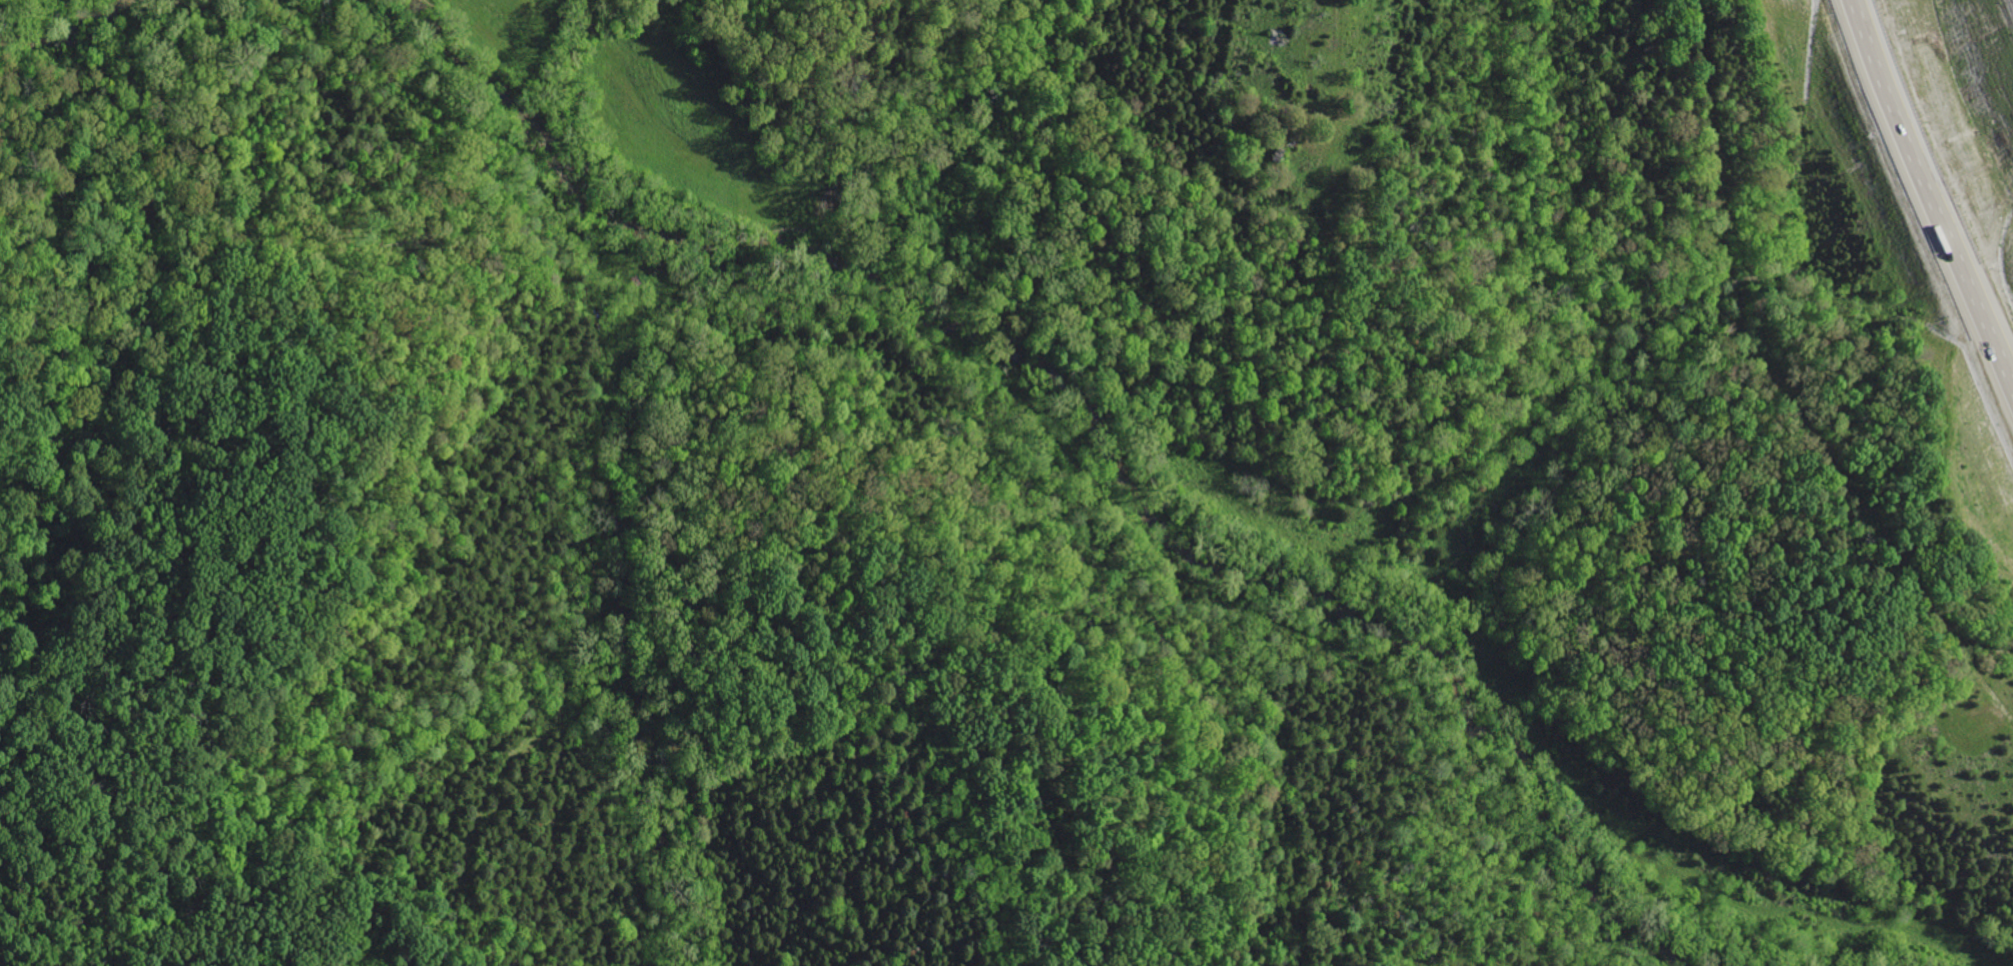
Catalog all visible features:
road: (1922, 198)

